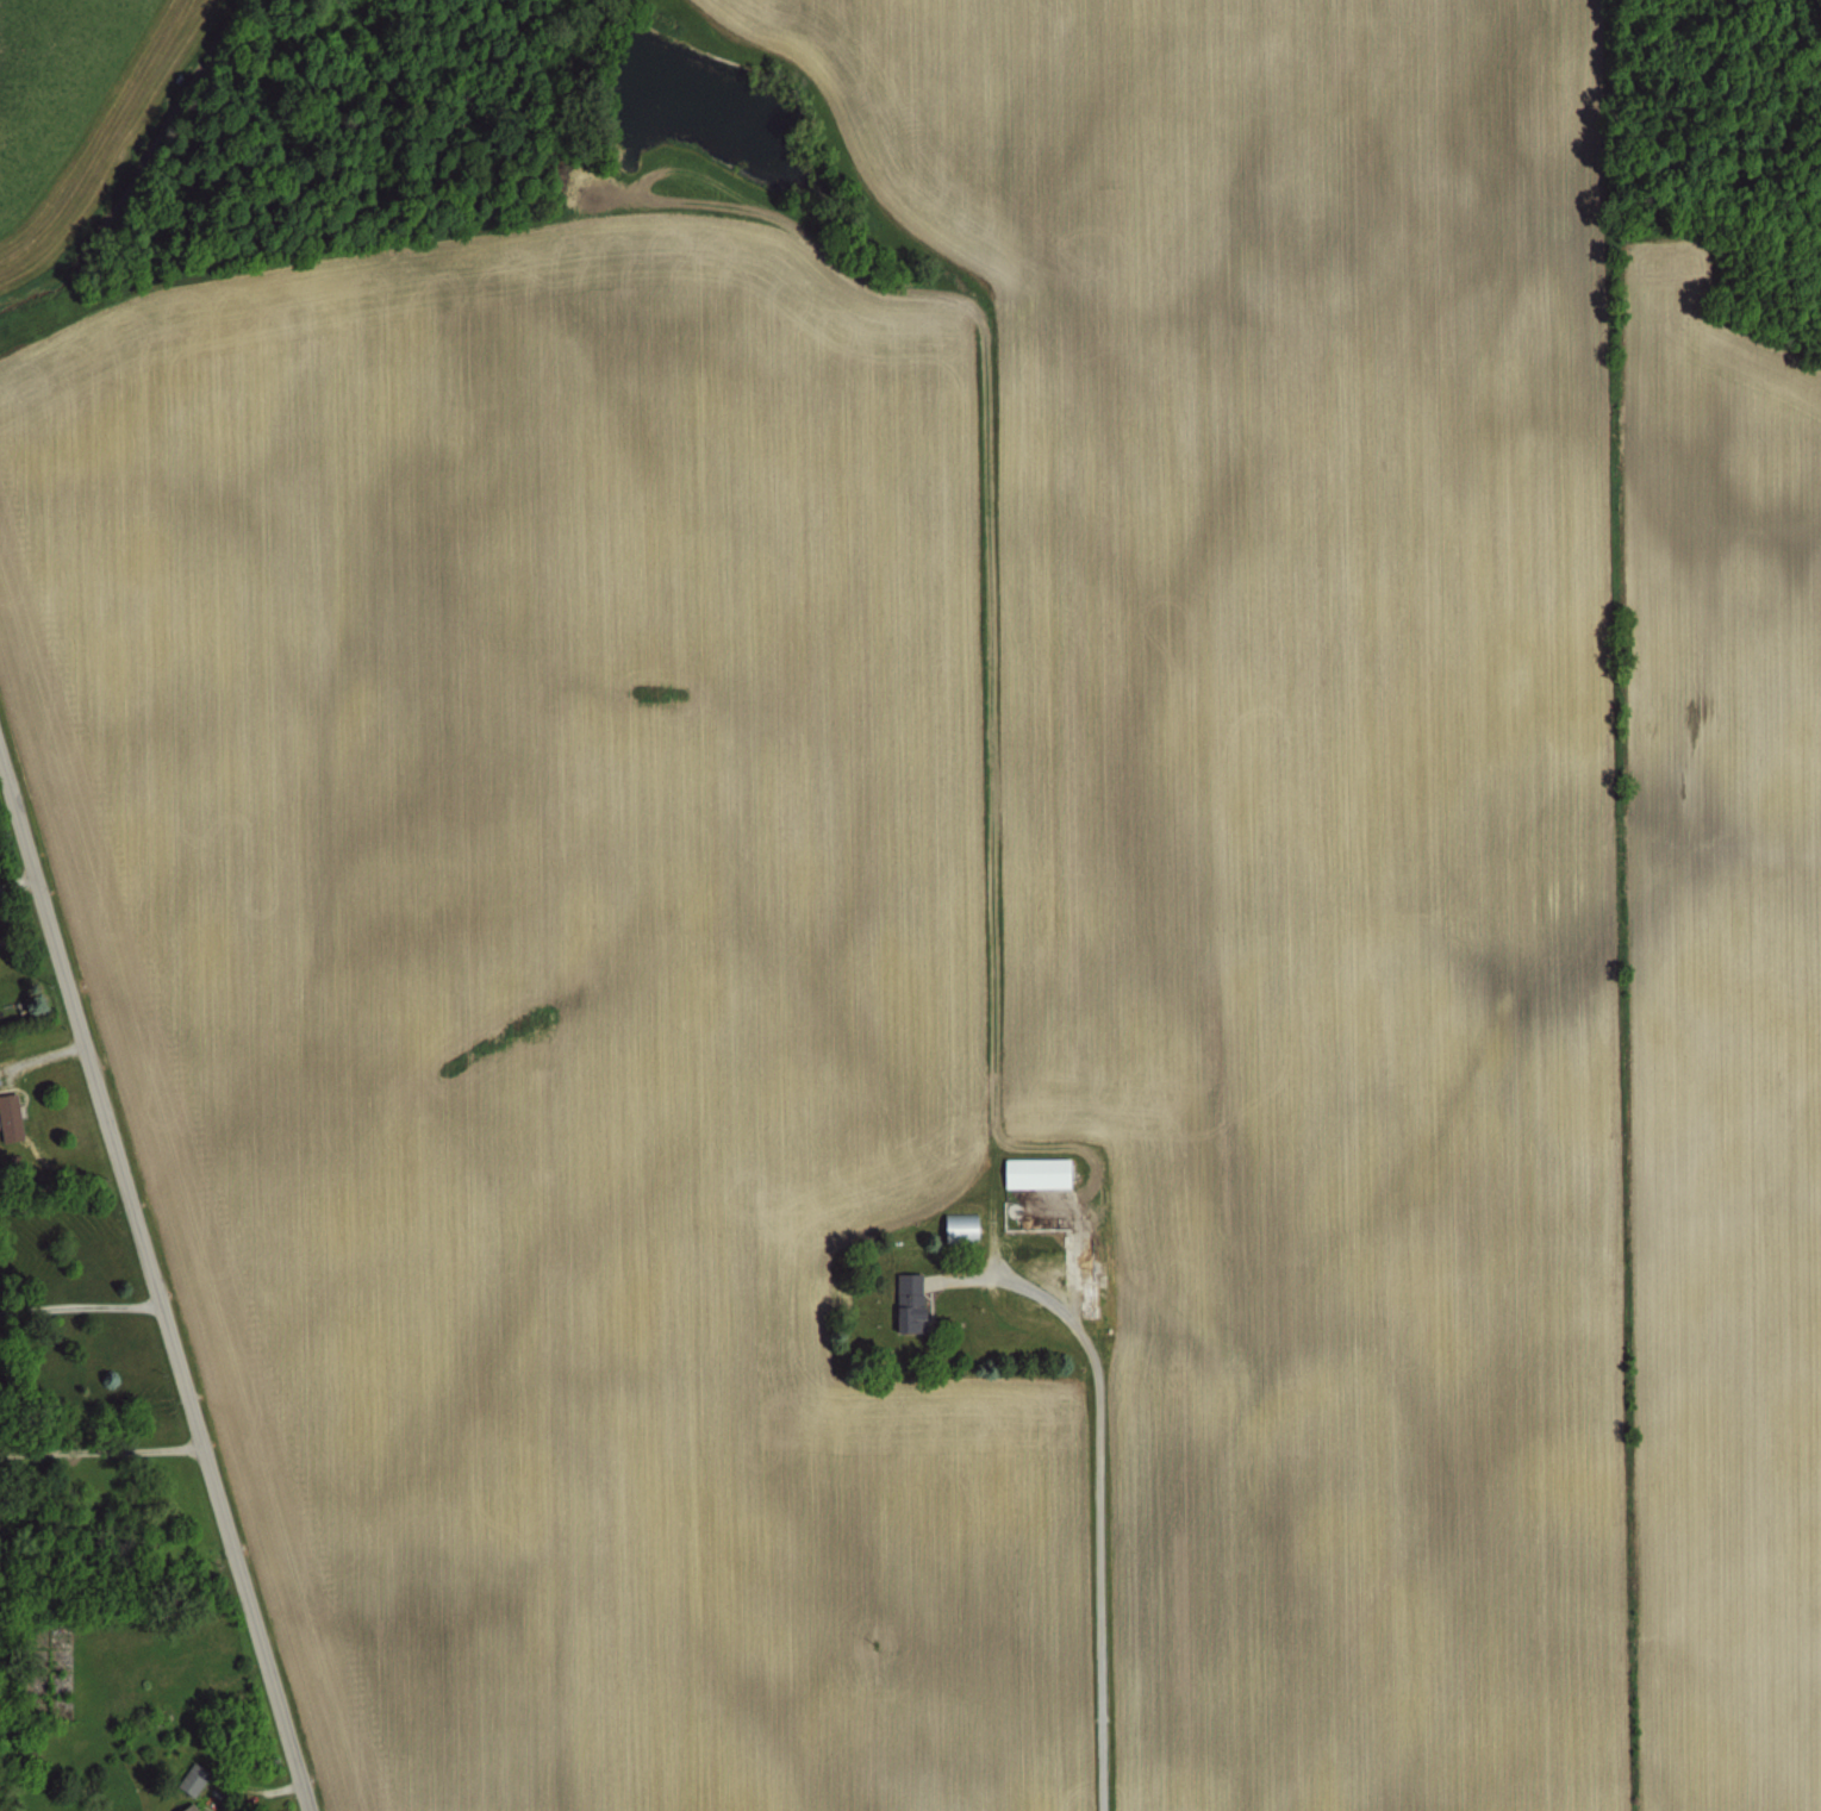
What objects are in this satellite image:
crop: (966, 870)
road: (18, 876)
road: (44, 1054)
building: (0, 1078)
building: (8, 1114)
building: (1030, 1170)
building: (955, 1225)
road: (155, 1276)
building: (1035, 1288)
building: (904, 1299)
road: (80, 1301)
road: (101, 1445)
road: (1096, 1491)
building: (187, 1775)
building: (199, 1780)
building: (183, 1806)
building: (197, 1807)

